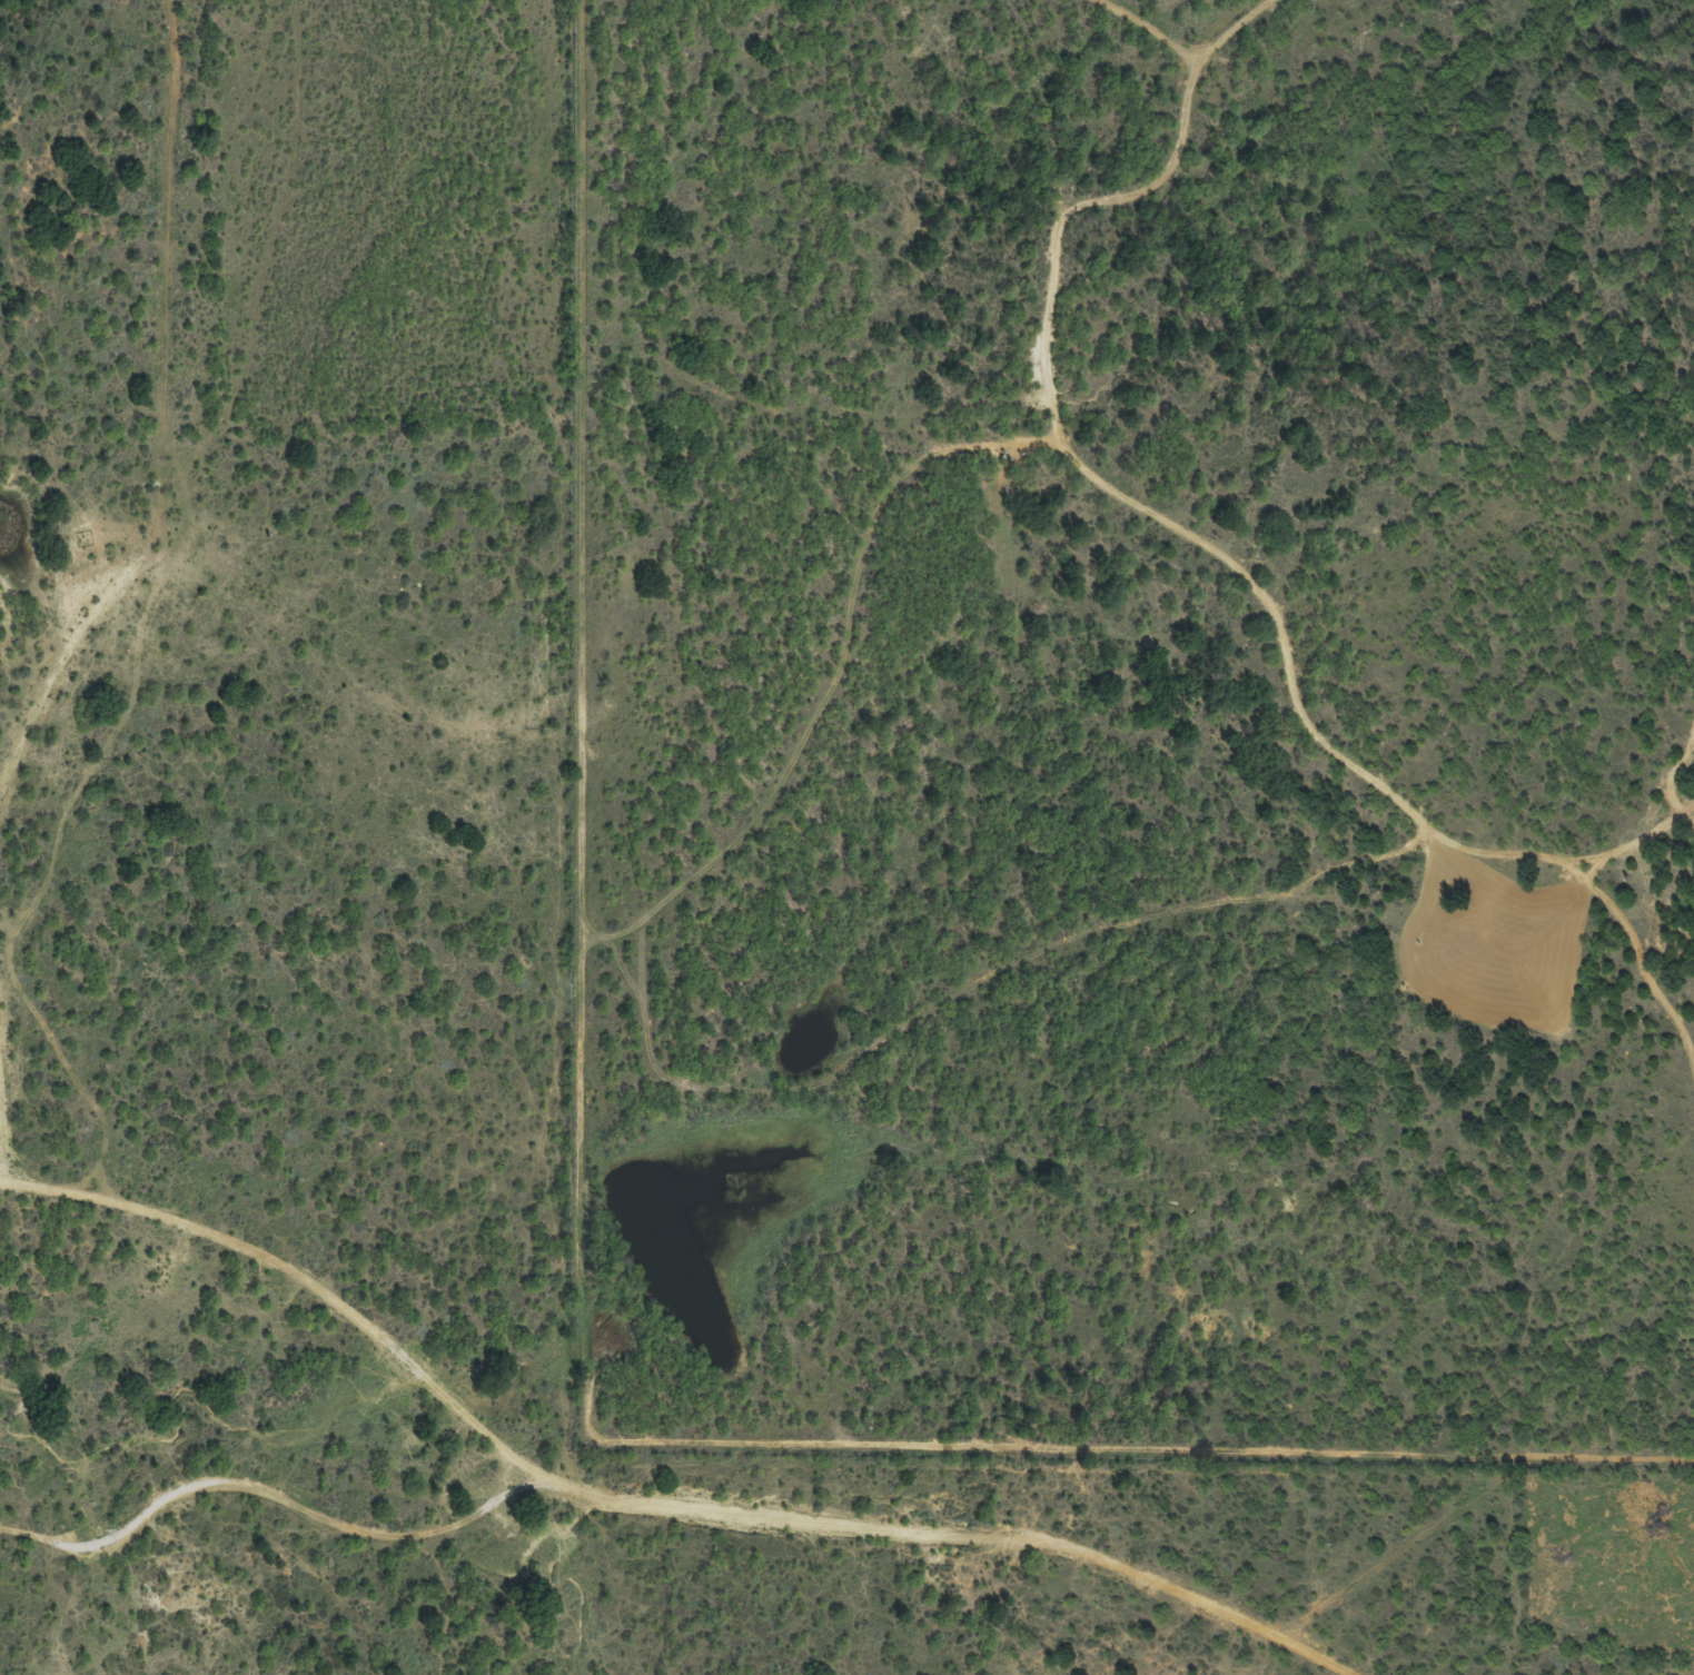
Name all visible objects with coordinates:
road: (1327, 1663)

